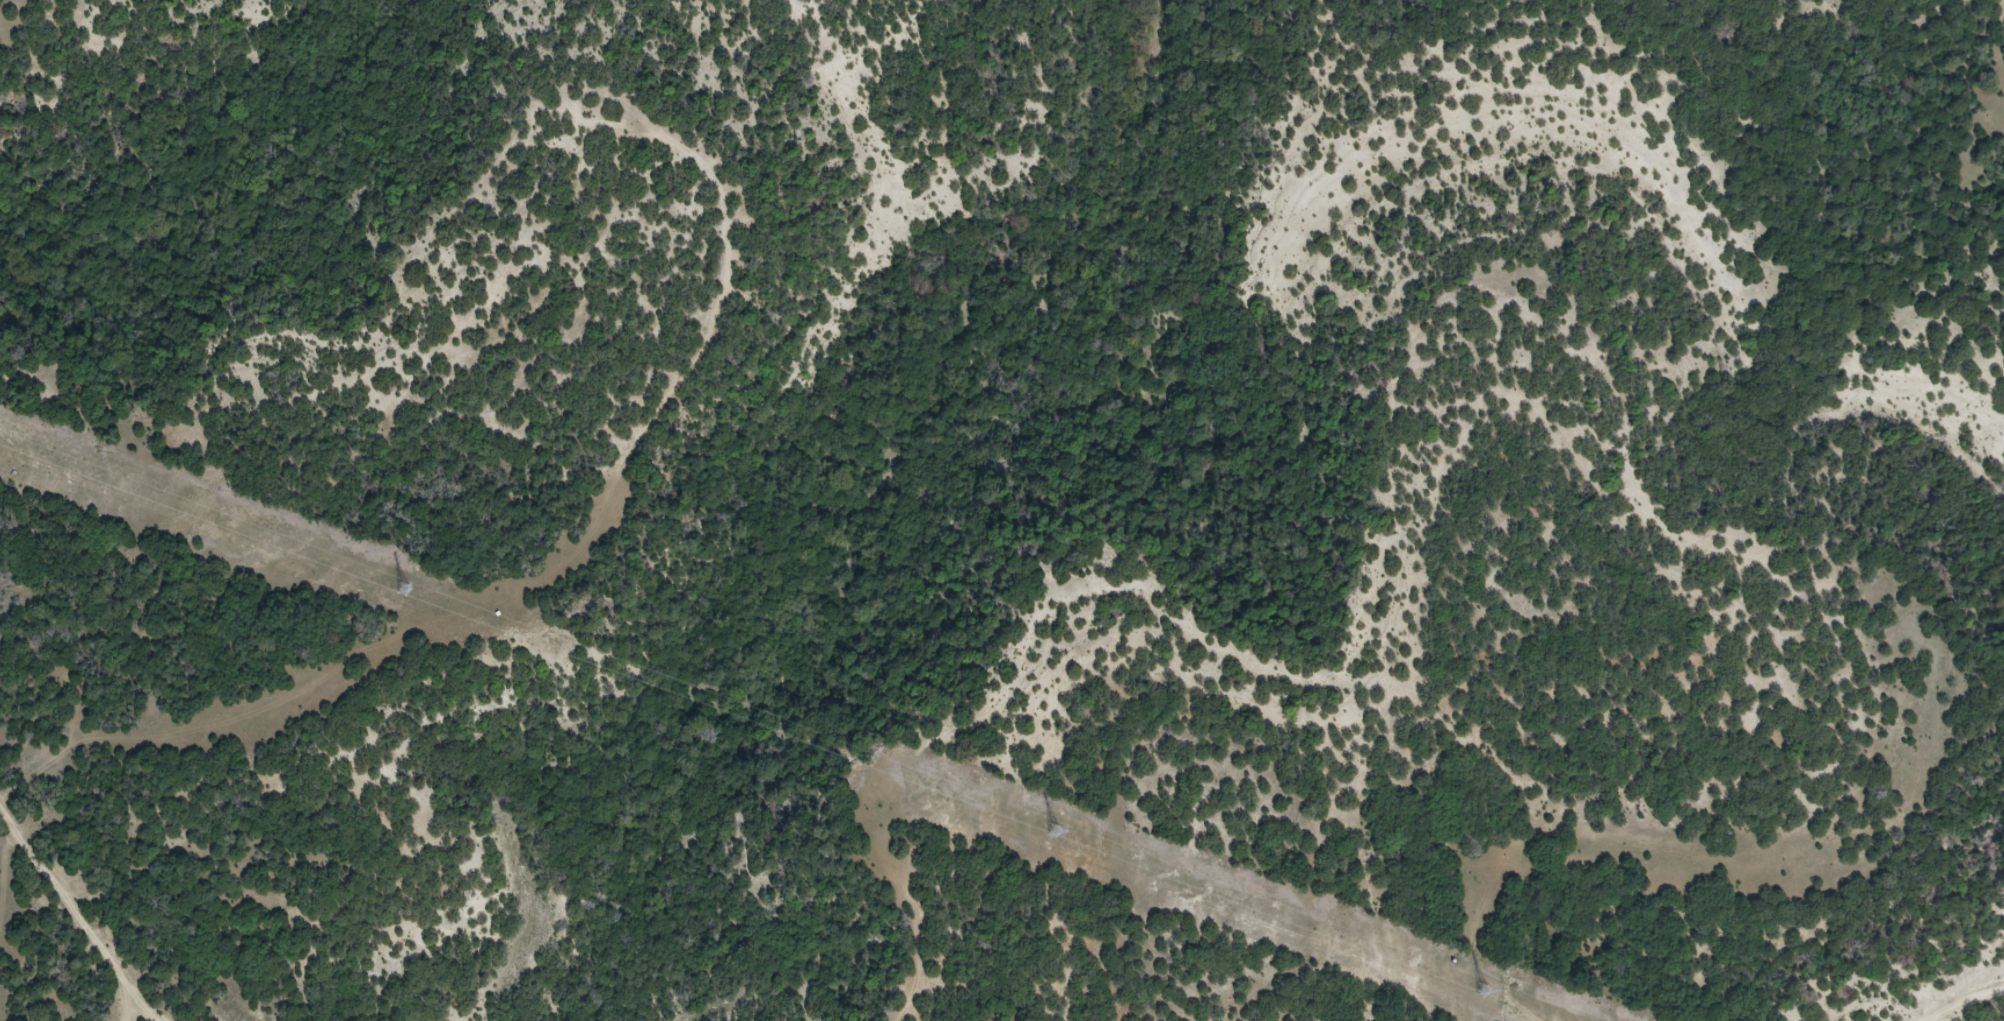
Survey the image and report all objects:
power tower: (402, 589)
power tower: (1056, 832)
road: (79, 916)
power tower: (1480, 989)
road: (1964, 1004)

